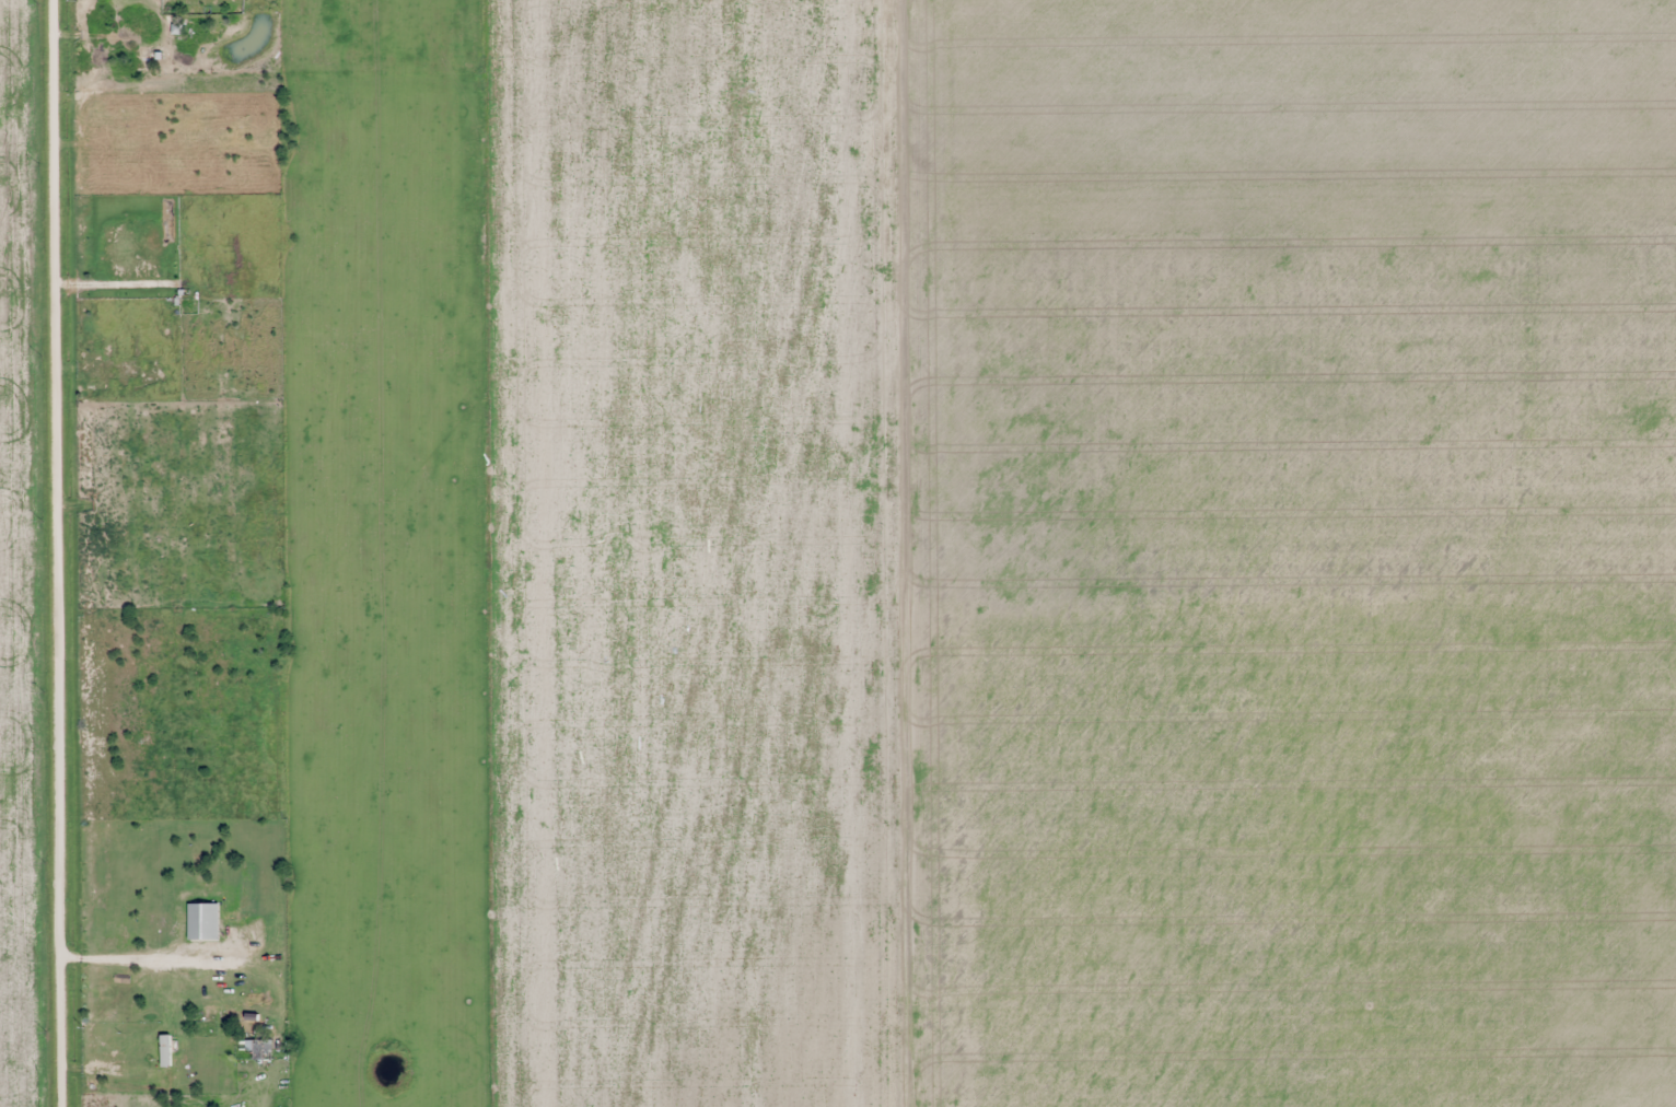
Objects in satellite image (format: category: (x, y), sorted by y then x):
road: (49, 553)
building: (203, 921)
building: (258, 1048)

